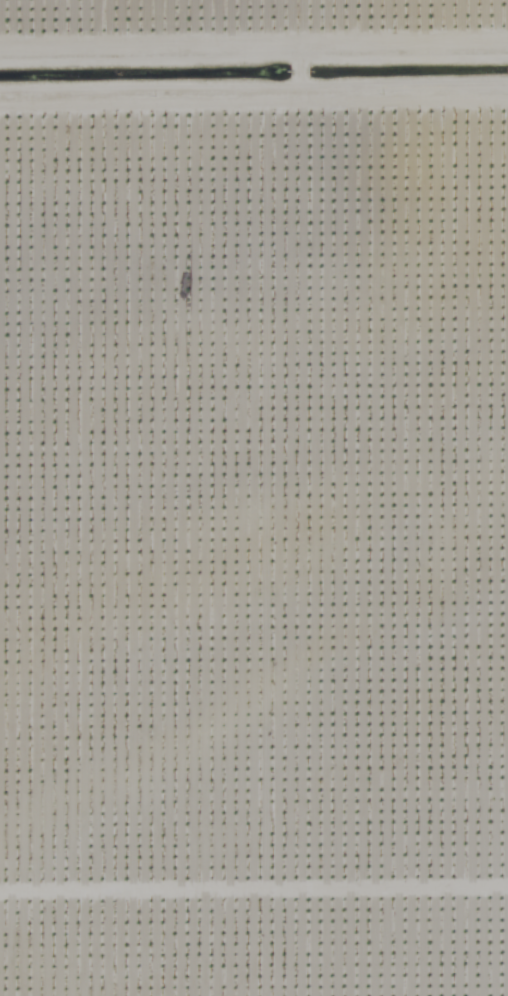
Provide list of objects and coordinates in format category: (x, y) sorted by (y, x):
road: (254, 120)
crop: (254, 498)

